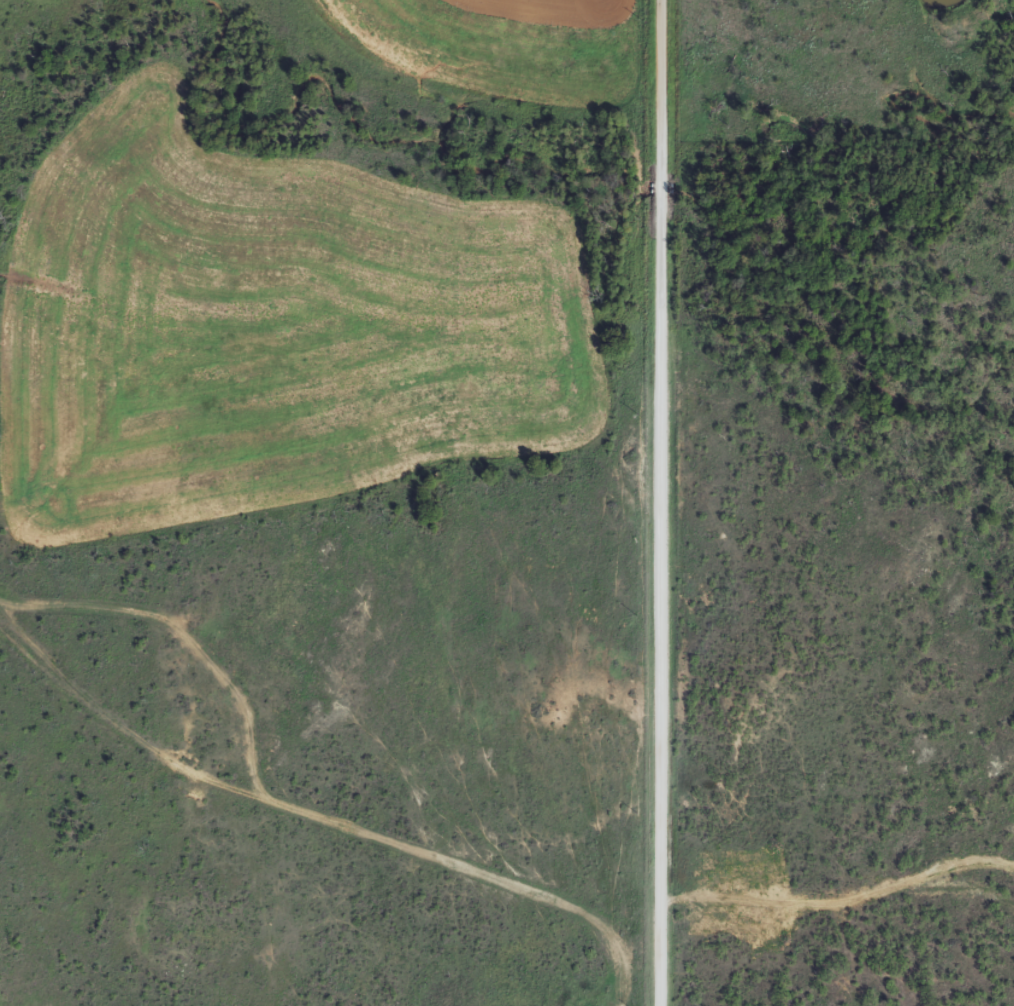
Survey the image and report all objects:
road: (663, 503)
road: (473, 863)

